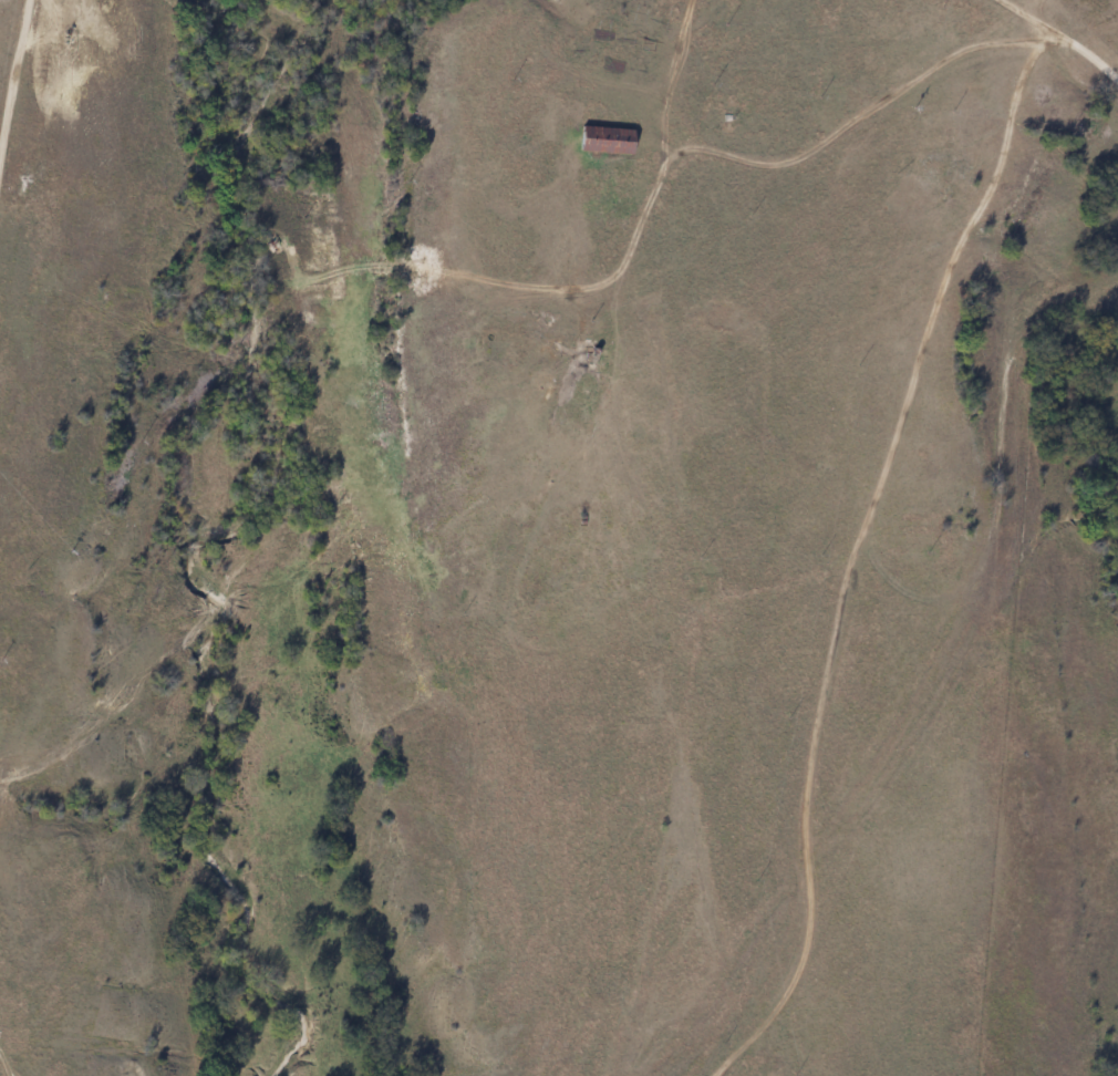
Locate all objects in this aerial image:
road: (1059, 34)
road: (13, 87)
building: (601, 139)
road: (860, 561)
road: (2, 1066)

